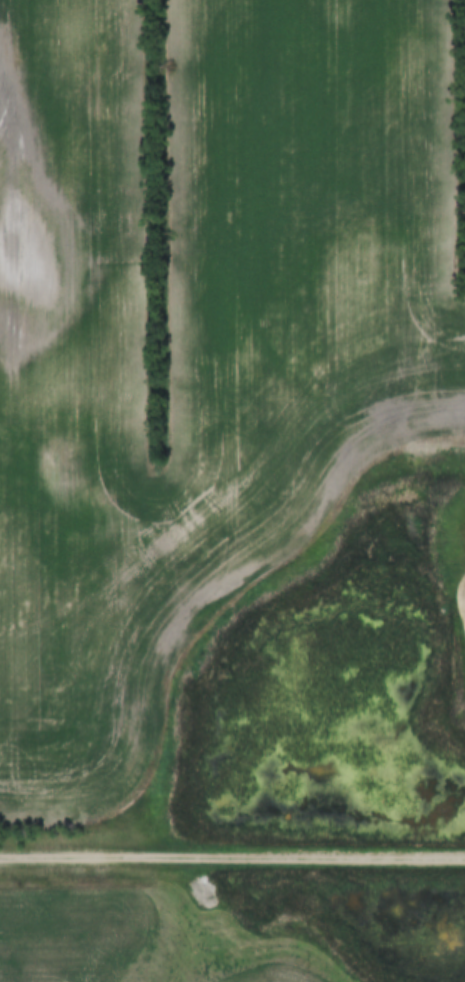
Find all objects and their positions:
road: (232, 856)

